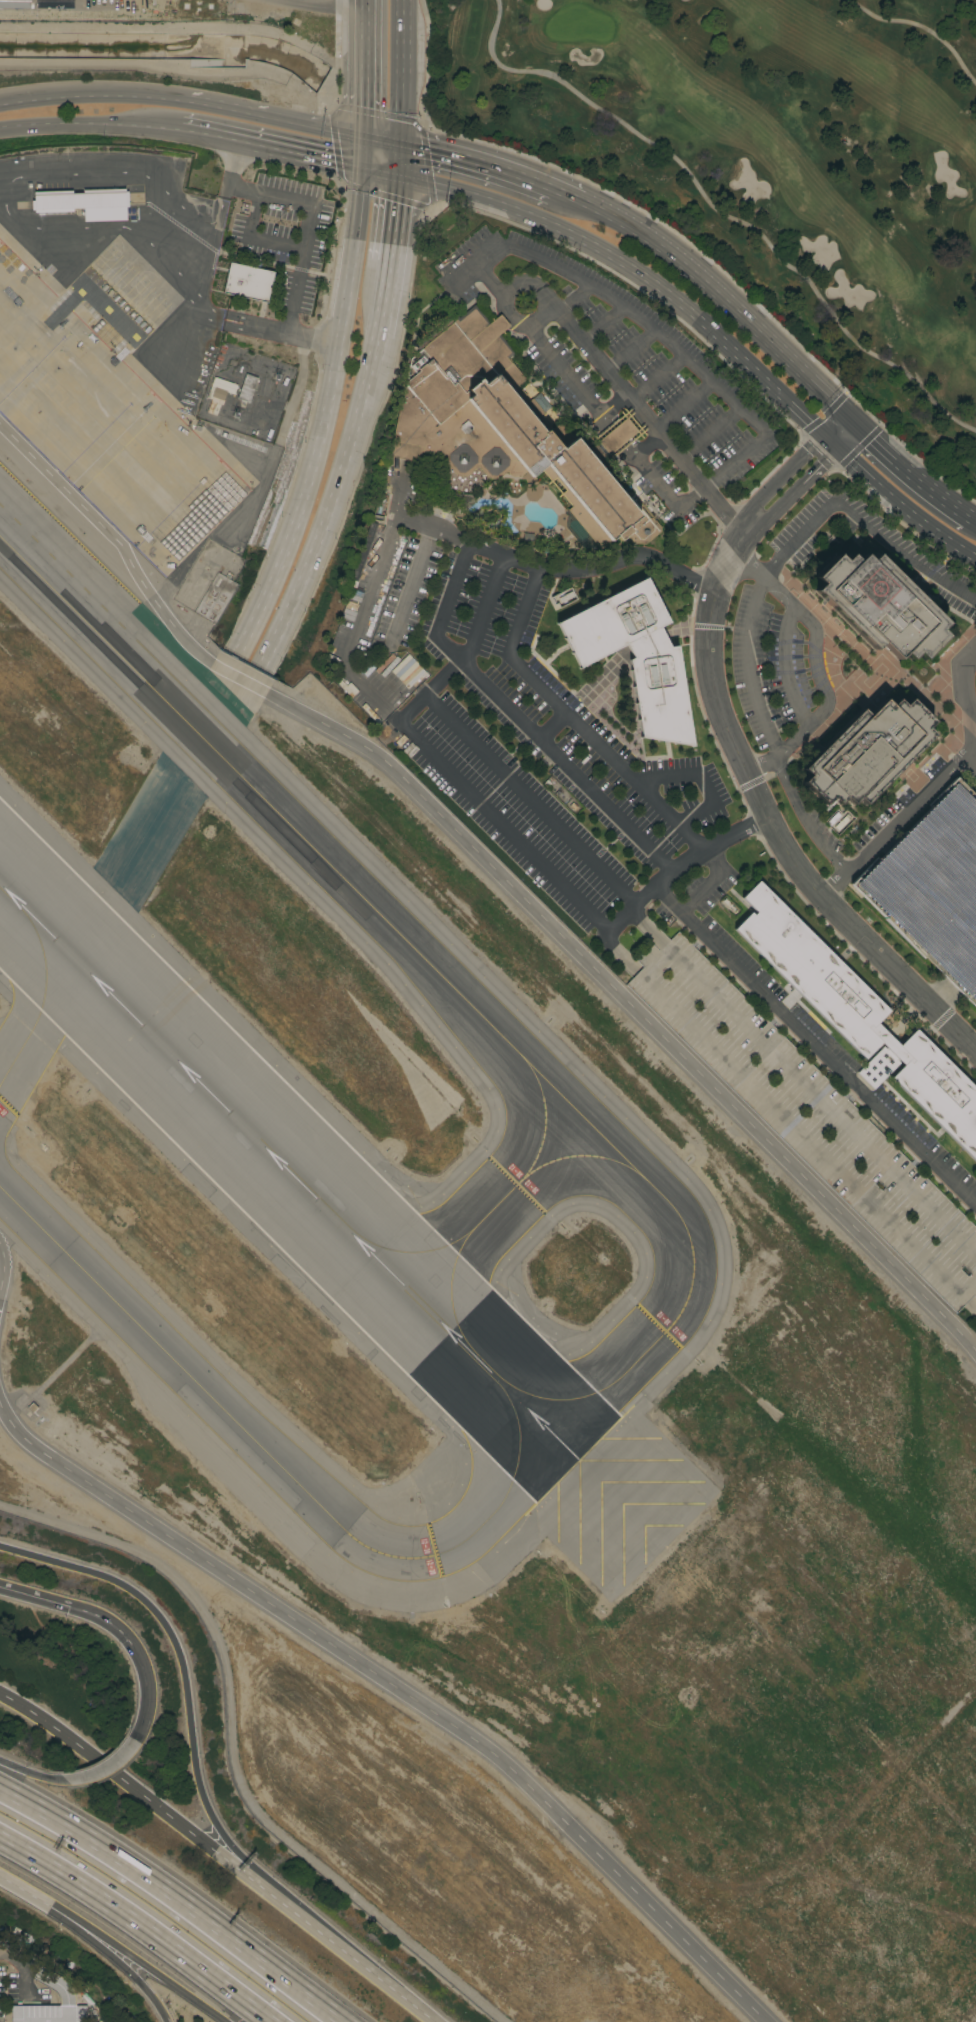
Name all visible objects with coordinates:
road: (104, 12)
road: (919, 26)
airport: (177, 40)
road: (366, 67)
road: (402, 70)
road: (92, 95)
road: (275, 117)
road: (90, 123)
traffic signals: (365, 134)
road: (382, 137)
road: (222, 138)
traffic signals: (400, 140)
road: (363, 151)
road: (313, 157)
road: (398, 157)
road: (476, 160)
park: (769, 162)
road: (231, 168)
traffic signals: (362, 168)
road: (379, 171)
traffic signals: (397, 175)
road: (569, 194)
building: (86, 203)
road: (719, 213)
road: (392, 219)
road: (309, 226)
parking lot: (289, 235)
road: (253, 238)
road: (207, 263)
road: (477, 265)
road: (629, 271)
building: (249, 282)
road: (490, 283)
road: (708, 284)
road: (540, 292)
road: (575, 298)
road: (381, 305)
road: (605, 324)
road: (648, 327)
road: (280, 334)
road: (632, 350)
parking lot: (617, 364)
road: (561, 371)
road: (371, 374)
road: (657, 377)
building: (222, 385)
building: (247, 388)
road: (835, 404)
road: (685, 406)
road: (606, 410)
road: (644, 413)
road: (323, 416)
traffic signals: (854, 422)
building: (502, 427)
road: (837, 430)
road: (711, 433)
building: (617, 436)
road: (617, 437)
road: (844, 437)
traffic signals: (820, 438)
road: (647, 445)
road: (827, 445)
road: (628, 450)
traffic signals: (835, 452)
road: (634, 458)
road: (735, 463)
road: (910, 472)
road: (780, 478)
road: (655, 485)
road: (795, 492)
road: (690, 500)
road: (903, 509)
road: (973, 519)
road: (431, 528)
road: (324, 537)
road: (789, 538)
road: (594, 571)
parking lot: (926, 582)
building: (880, 606)
road: (362, 607)
road: (485, 612)
road: (402, 618)
parking lot: (781, 636)
road: (815, 646)
building: (335, 650)
building: (636, 657)
road: (785, 668)
building: (352, 692)
road: (966, 706)
road: (971, 709)
parking lot: (510, 717)
road: (571, 721)
road: (519, 722)
building: (867, 752)
road: (970, 761)
road: (761, 767)
road: (667, 778)
road: (708, 789)
road: (473, 798)
road: (530, 800)
road: (698, 817)
road: (764, 819)
road: (805, 819)
building: (838, 821)
road: (887, 832)
road: (945, 846)
road: (679, 866)
airport taxiway: (327, 871)
road: (495, 873)
road: (878, 887)
building: (933, 887)
parking lot: (933, 887)
road: (940, 897)
road: (966, 921)
parking lot: (735, 940)
road: (968, 960)
road: (942, 997)
airport taxiway: (37, 1017)
building: (859, 1017)
road: (814, 1045)
parking lot: (805, 1112)
building: (810, 1117)
parking lot: (928, 1138)
airport runway: (280, 1163)
airport taxiway: (495, 1209)
road: (4, 1272)
airport taxiway: (668, 1331)
airport taxiway: (164, 1353)
airport: (460, 1359)
airport taxiway: (457, 1543)
road: (67, 1606)
traffic signals: (68, 1607)
road: (168, 1633)
road: (145, 1689)
road: (399, 1690)
road: (13, 1768)
road: (103, 1769)
road: (44, 1777)
road: (120, 1780)
road: (225, 1846)
road: (39, 1897)
road: (173, 1899)
road: (140, 1922)
road: (335, 1946)
road: (107, 1951)
road: (151, 1971)
road: (45, 1977)
road: (152, 1999)
road: (226, 2021)

